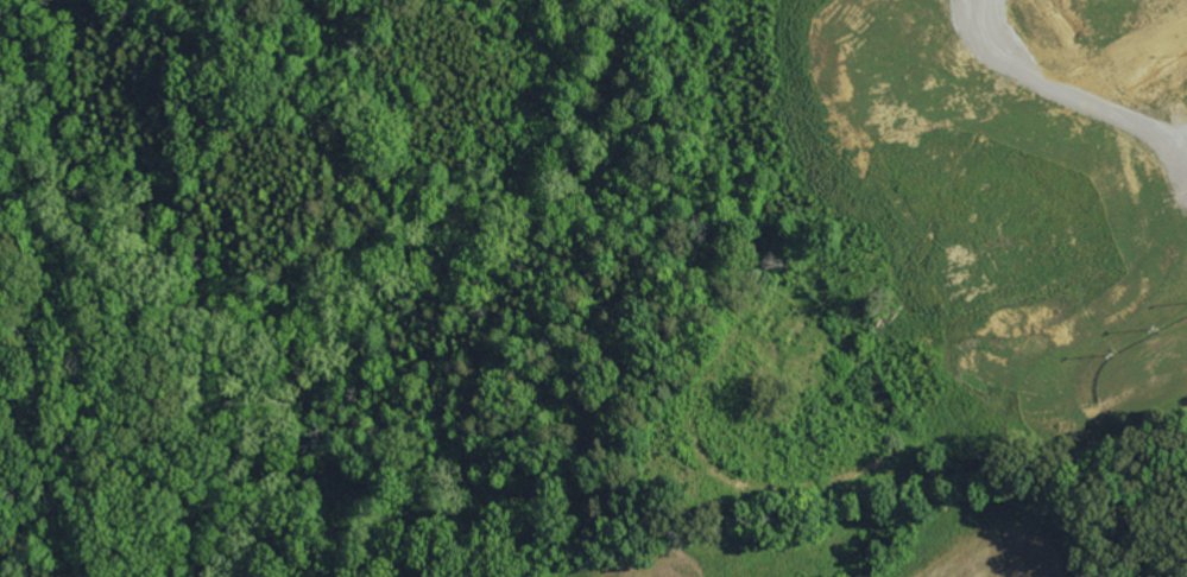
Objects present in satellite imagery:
road: (1068, 91)

